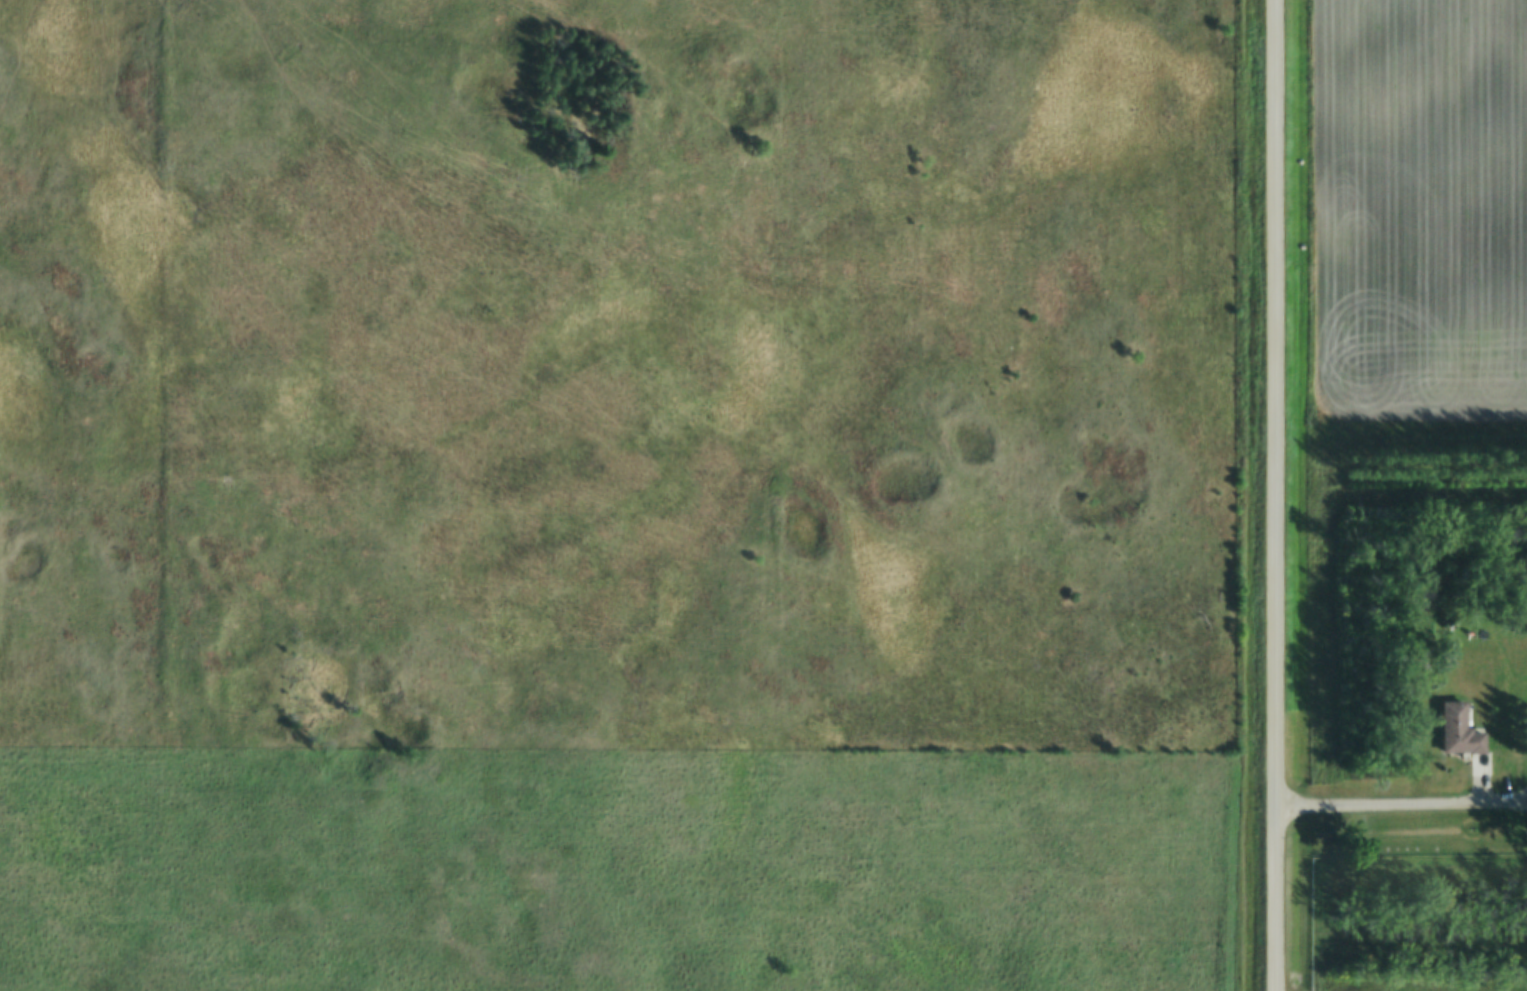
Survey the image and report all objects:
road: (1278, 495)
building: (1457, 739)
road: (1402, 810)

